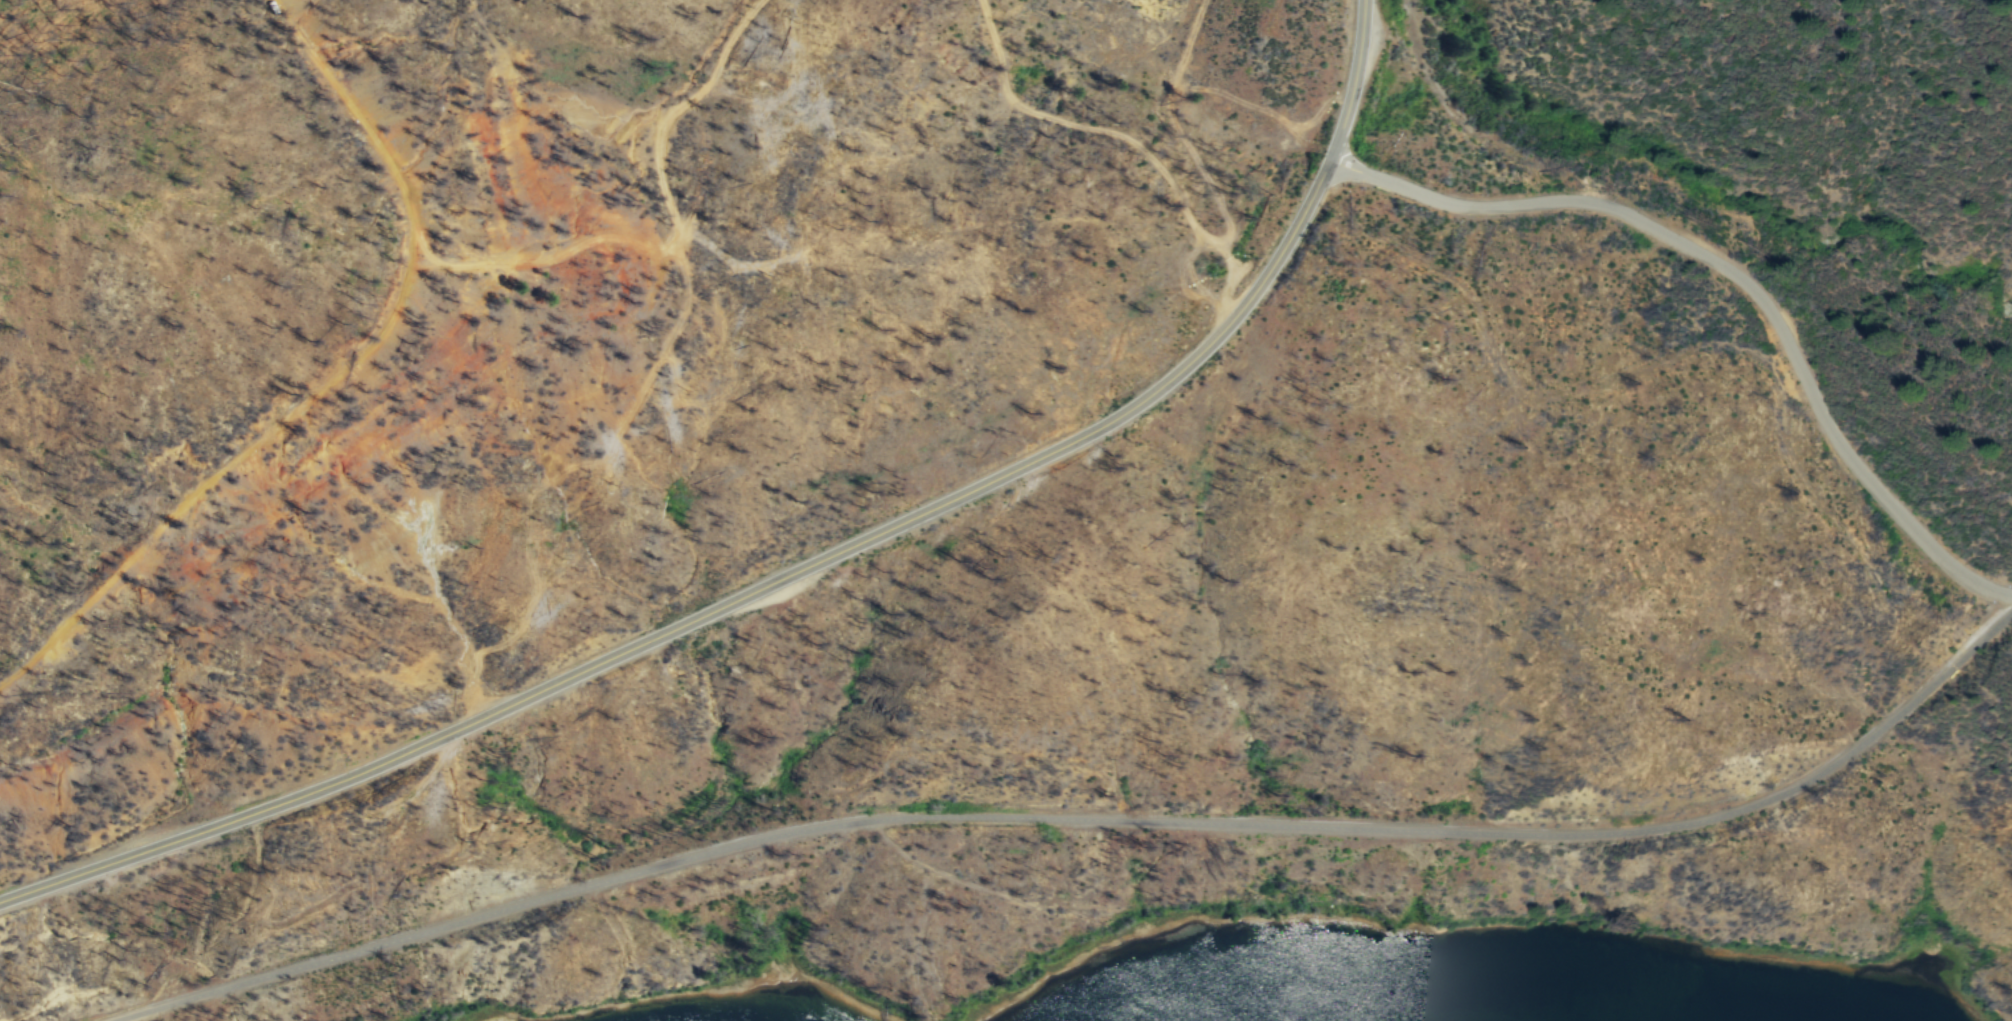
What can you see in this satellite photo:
road: (1128, 142)
road: (681, 240)
road: (1740, 277)
road: (331, 385)
road: (800, 574)
road: (1083, 814)

